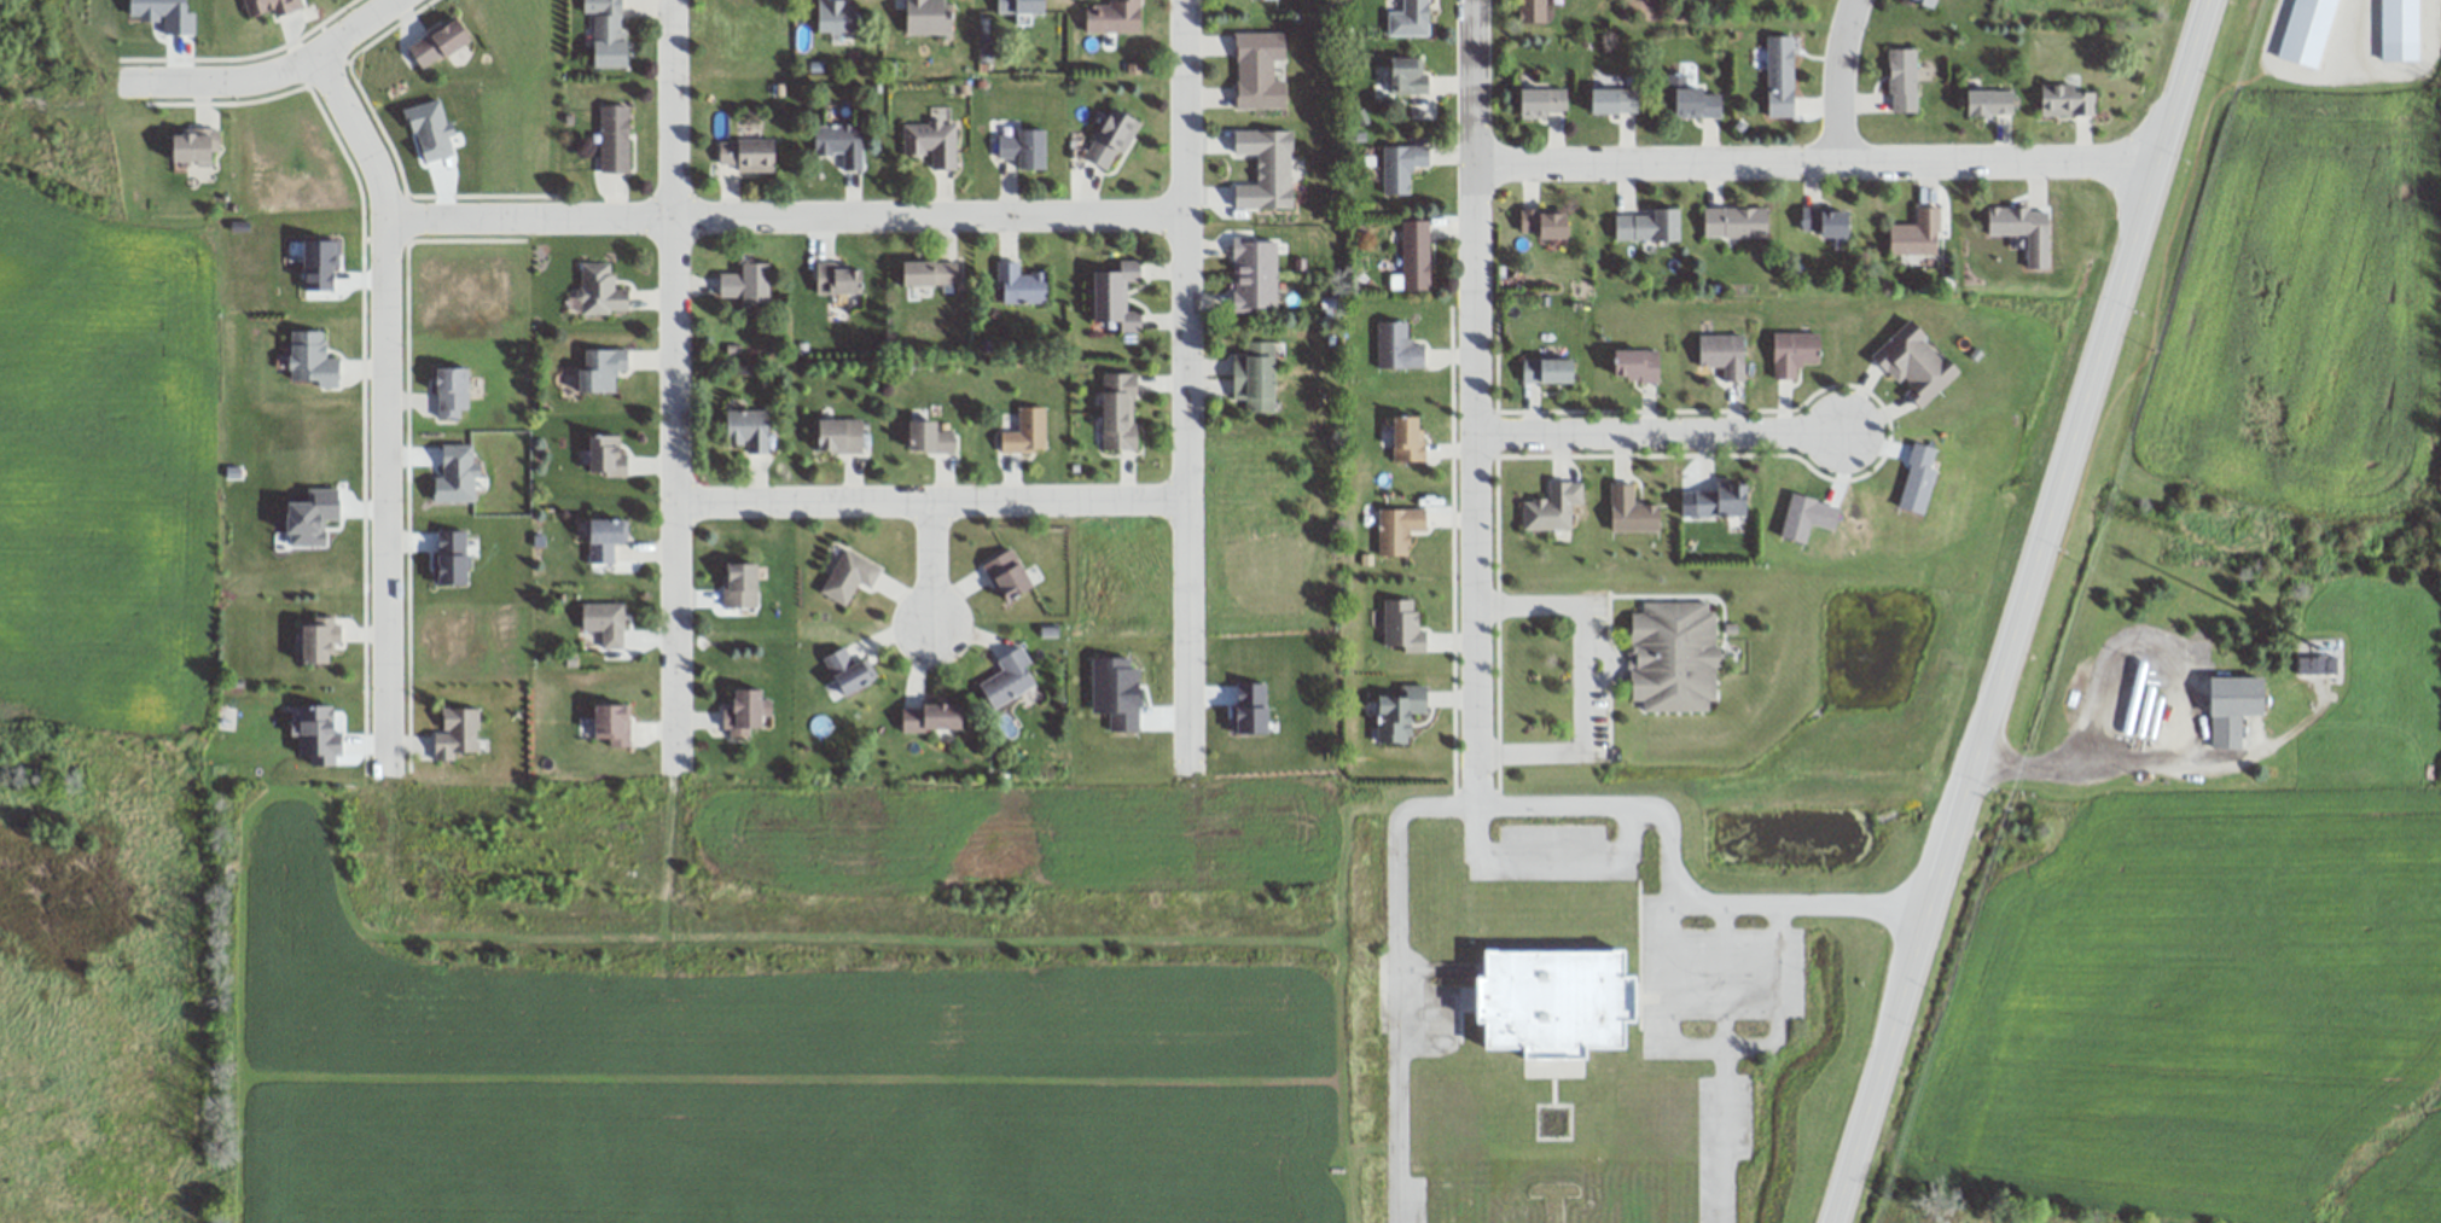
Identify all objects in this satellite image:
building: (1924, 2)
building: (1022, 5)
building: (273, 7)
building: (1532, 11)
park: (1720, 11)
building: (926, 14)
building: (835, 16)
building: (1110, 16)
building: (1408, 18)
building: (2399, 21)
building: (608, 33)
building: (438, 42)
road: (269, 69)
building: (1259, 70)
building: (1779, 76)
building: (1407, 77)
road: (1833, 80)
building: (1902, 81)
building: (2067, 100)
building: (1616, 101)
building: (1989, 103)
building: (1544, 104)
building: (1697, 104)
building: (1418, 110)
building: (614, 138)
building: (1112, 138)
building: (841, 142)
building: (931, 142)
building: (196, 147)
building: (1024, 147)
road: (1475, 151)
building: (748, 155)
road: (1815, 163)
building: (1401, 167)
building: (1266, 169)
road: (784, 215)
building: (1734, 221)
building: (1544, 223)
building: (1829, 225)
building: (1647, 226)
building: (2021, 228)
building: (1918, 233)
building: (1414, 255)
building: (1131, 269)
building: (931, 273)
building: (1254, 275)
building: (837, 278)
building: (746, 281)
building: (1019, 284)
building: (600, 290)
building: (1109, 295)
building: (1132, 320)
building: (1395, 345)
building: (1794, 351)
building: (1722, 355)
building: (312, 360)
building: (1917, 363)
building: (1638, 366)
building: (604, 367)
building: (1548, 371)
building: (1257, 377)
road: (1182, 382)
road: (670, 384)
building: (447, 392)
road: (384, 402)
building: (1117, 412)
building: (746, 427)
building: (1023, 431)
road: (1656, 433)
building: (841, 435)
building: (929, 436)
building: (1405, 439)
building: (606, 456)
crop: (103, 467)
building: (1720, 497)
road: (926, 500)
building: (1552, 508)
building: (1631, 512)
building: (609, 531)
building: (1397, 532)
road: (1474, 553)
road: (928, 566)
building: (848, 575)
building: (1007, 576)
building: (740, 586)
road: (2027, 611)
building: (605, 623)
building: (1402, 627)
building: (320, 641)
building: (1674, 657)
building: (2313, 665)
building: (848, 669)
road: (1580, 679)
building: (1009, 681)
building: (2225, 691)
building: (742, 711)
building: (1401, 715)
building: (932, 717)
building: (612, 724)
building: (457, 734)
road: (2117, 757)
road: (1465, 805)
road: (1819, 903)
road: (1689, 908)
road: (1774, 1000)
building: (1558, 1003)
road: (1716, 1064)

